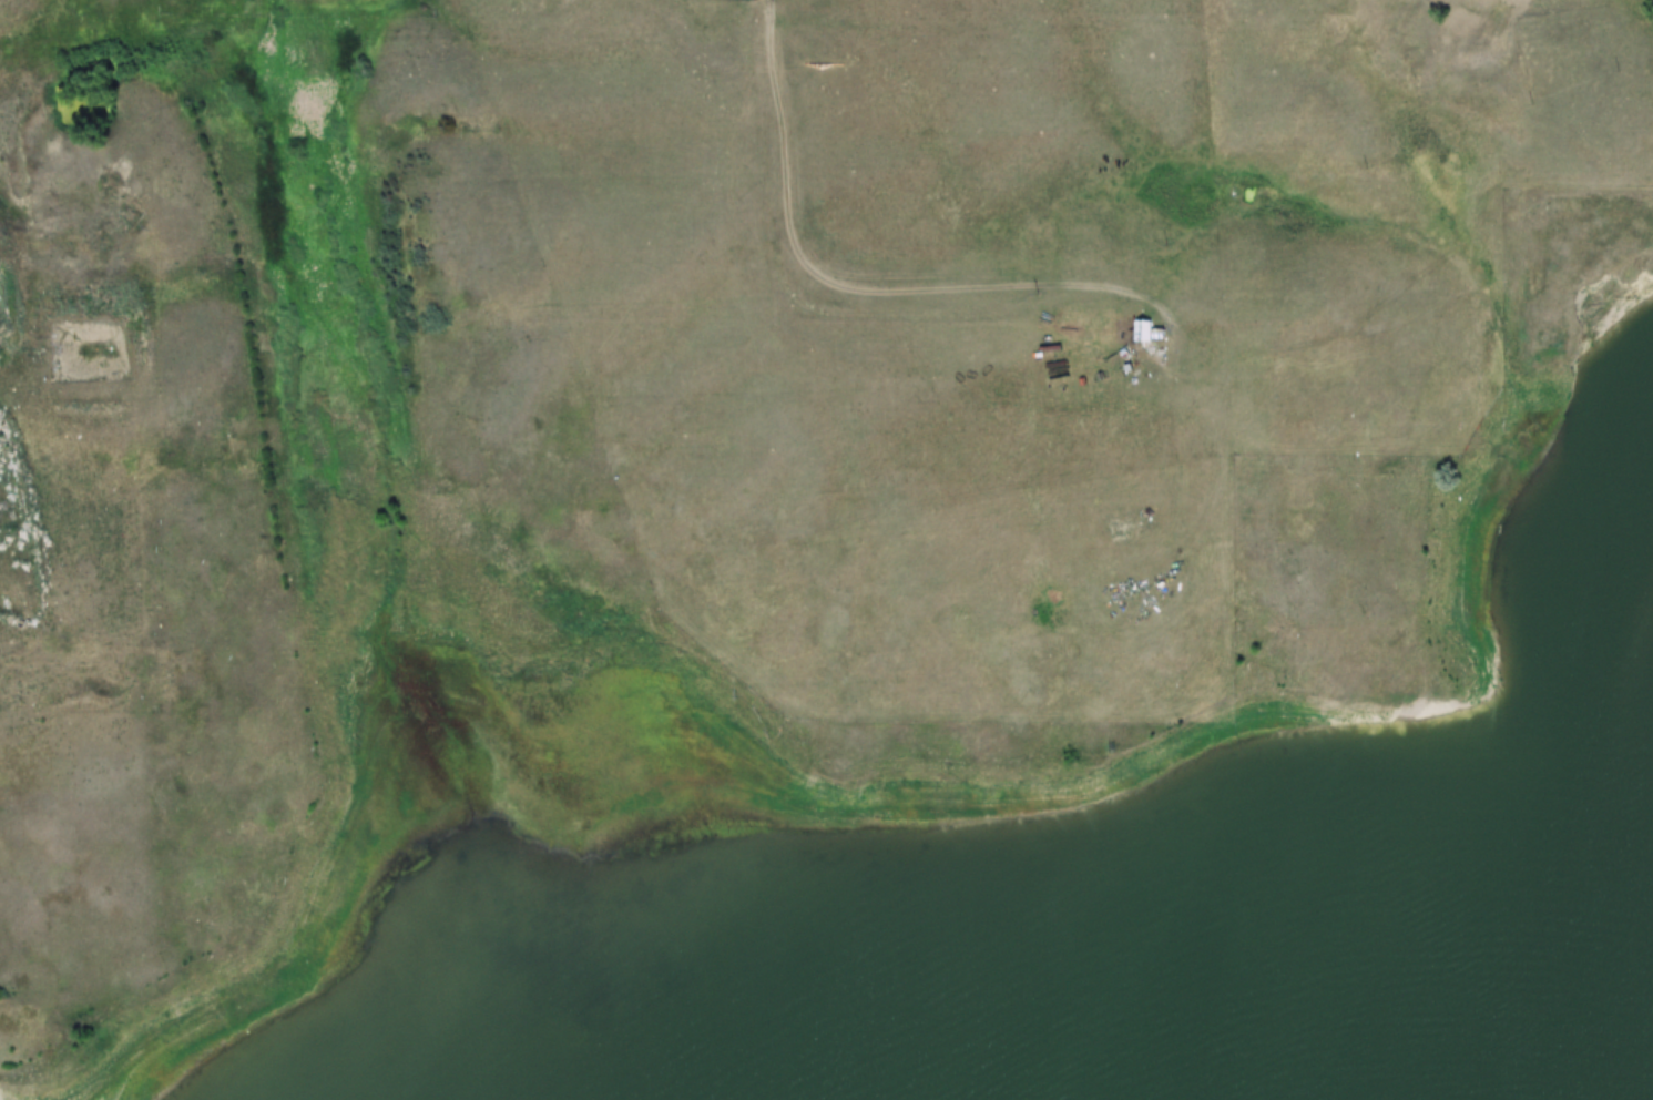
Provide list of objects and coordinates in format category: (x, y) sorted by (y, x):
building: (1143, 332)

